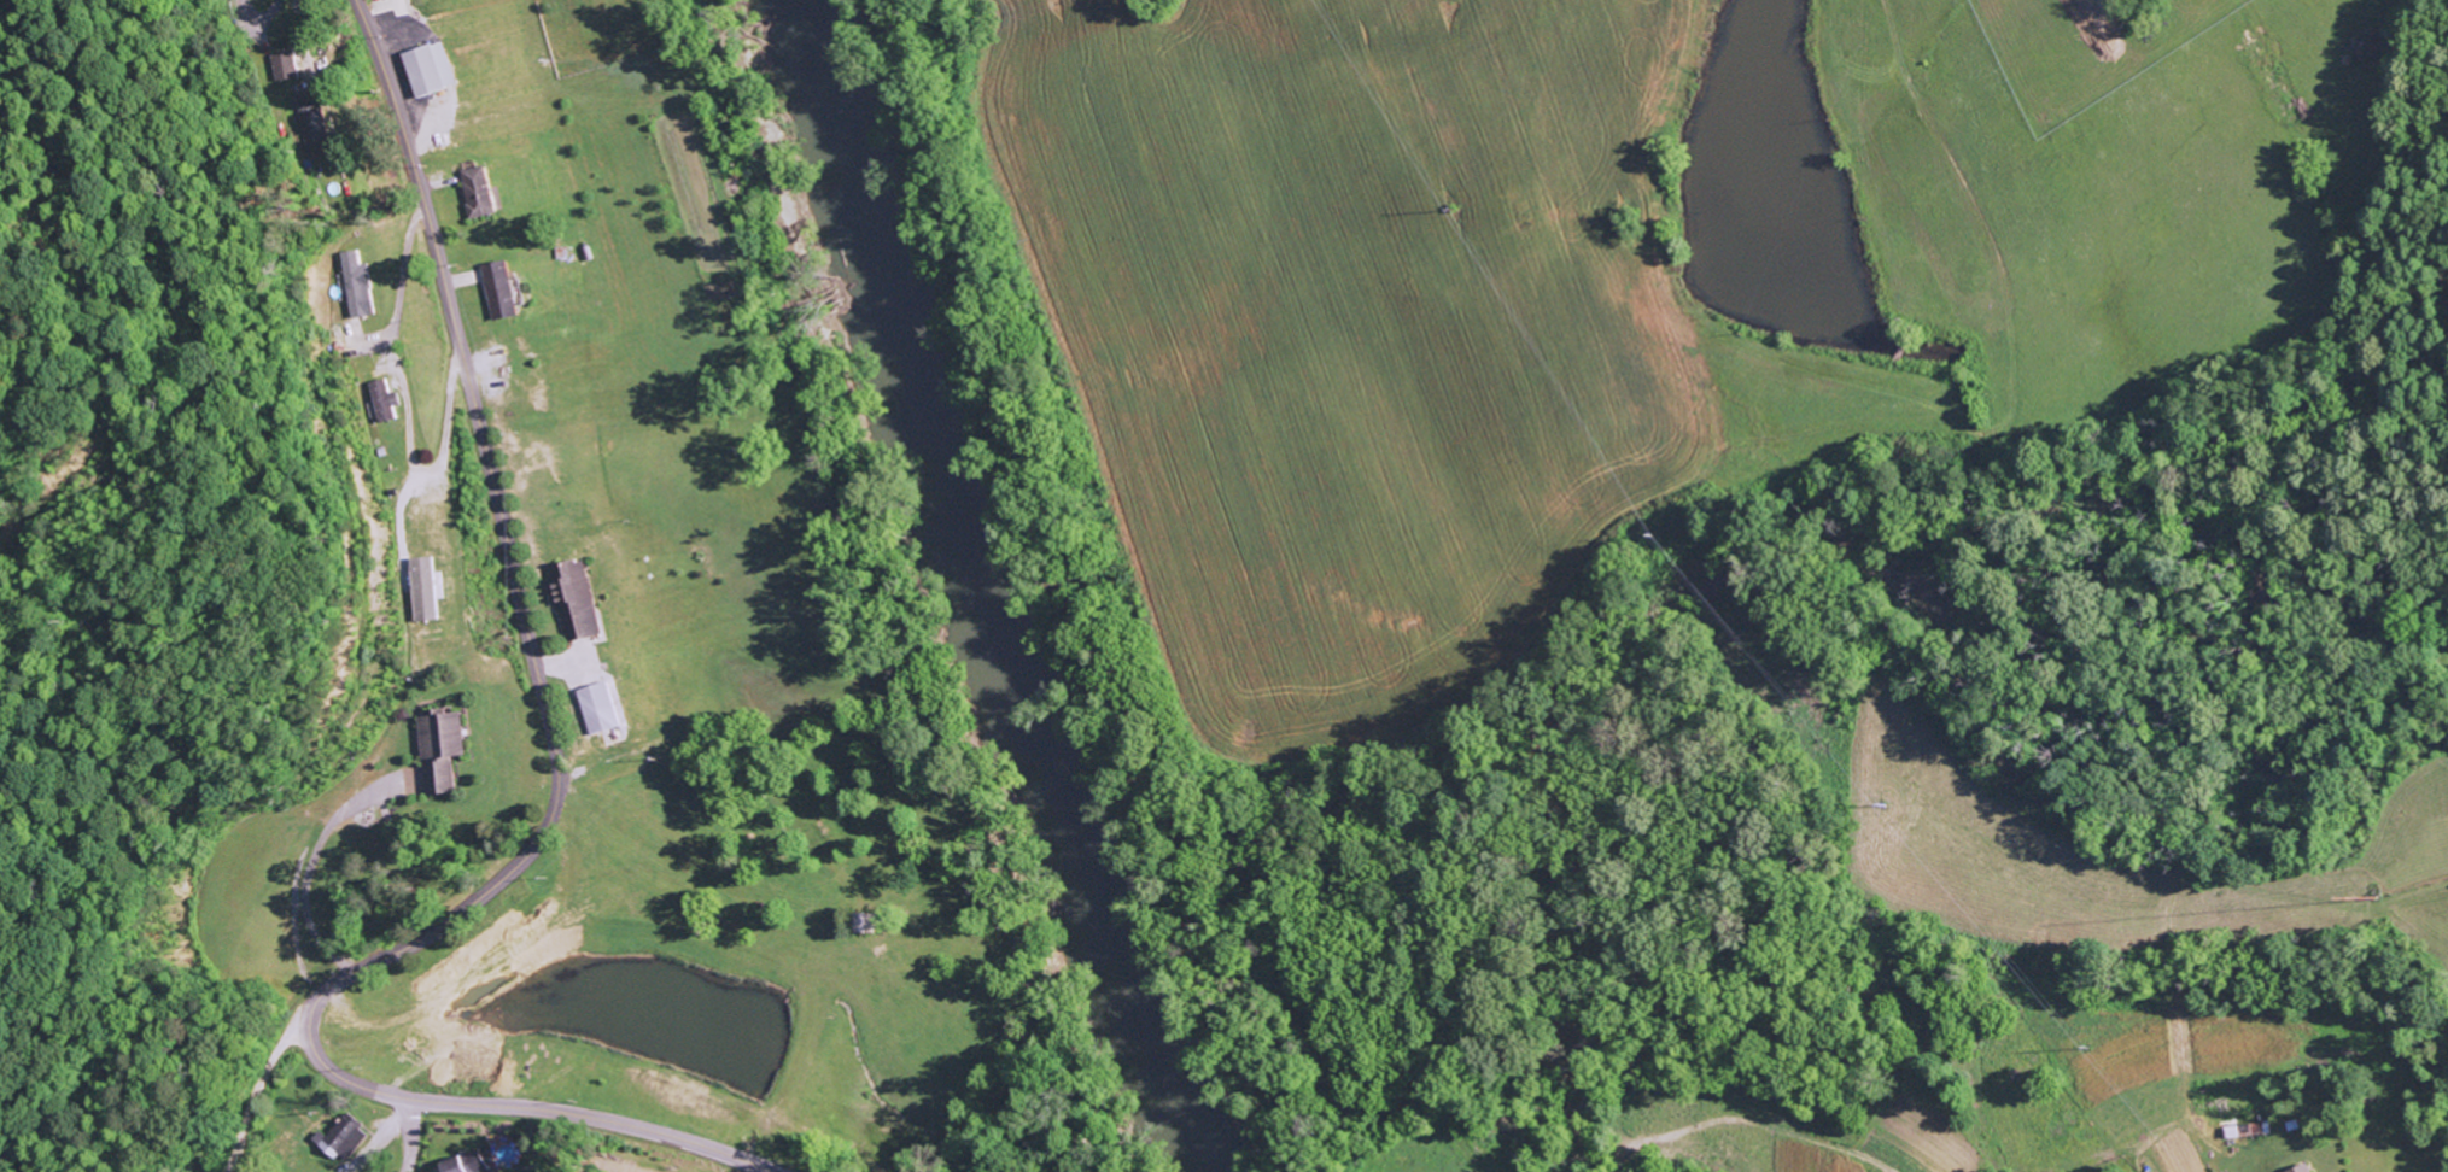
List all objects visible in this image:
building: (218, 0)
building: (281, 65)
building: (427, 69)
building: (309, 119)
building: (475, 192)
building: (354, 285)
building: (497, 289)
building: (379, 400)
river: (988, 587)
building: (420, 588)
building: (573, 600)
building: (596, 708)
road: (551, 810)
building: (337, 1139)
building: (460, 1164)
building: (2300, 1168)

